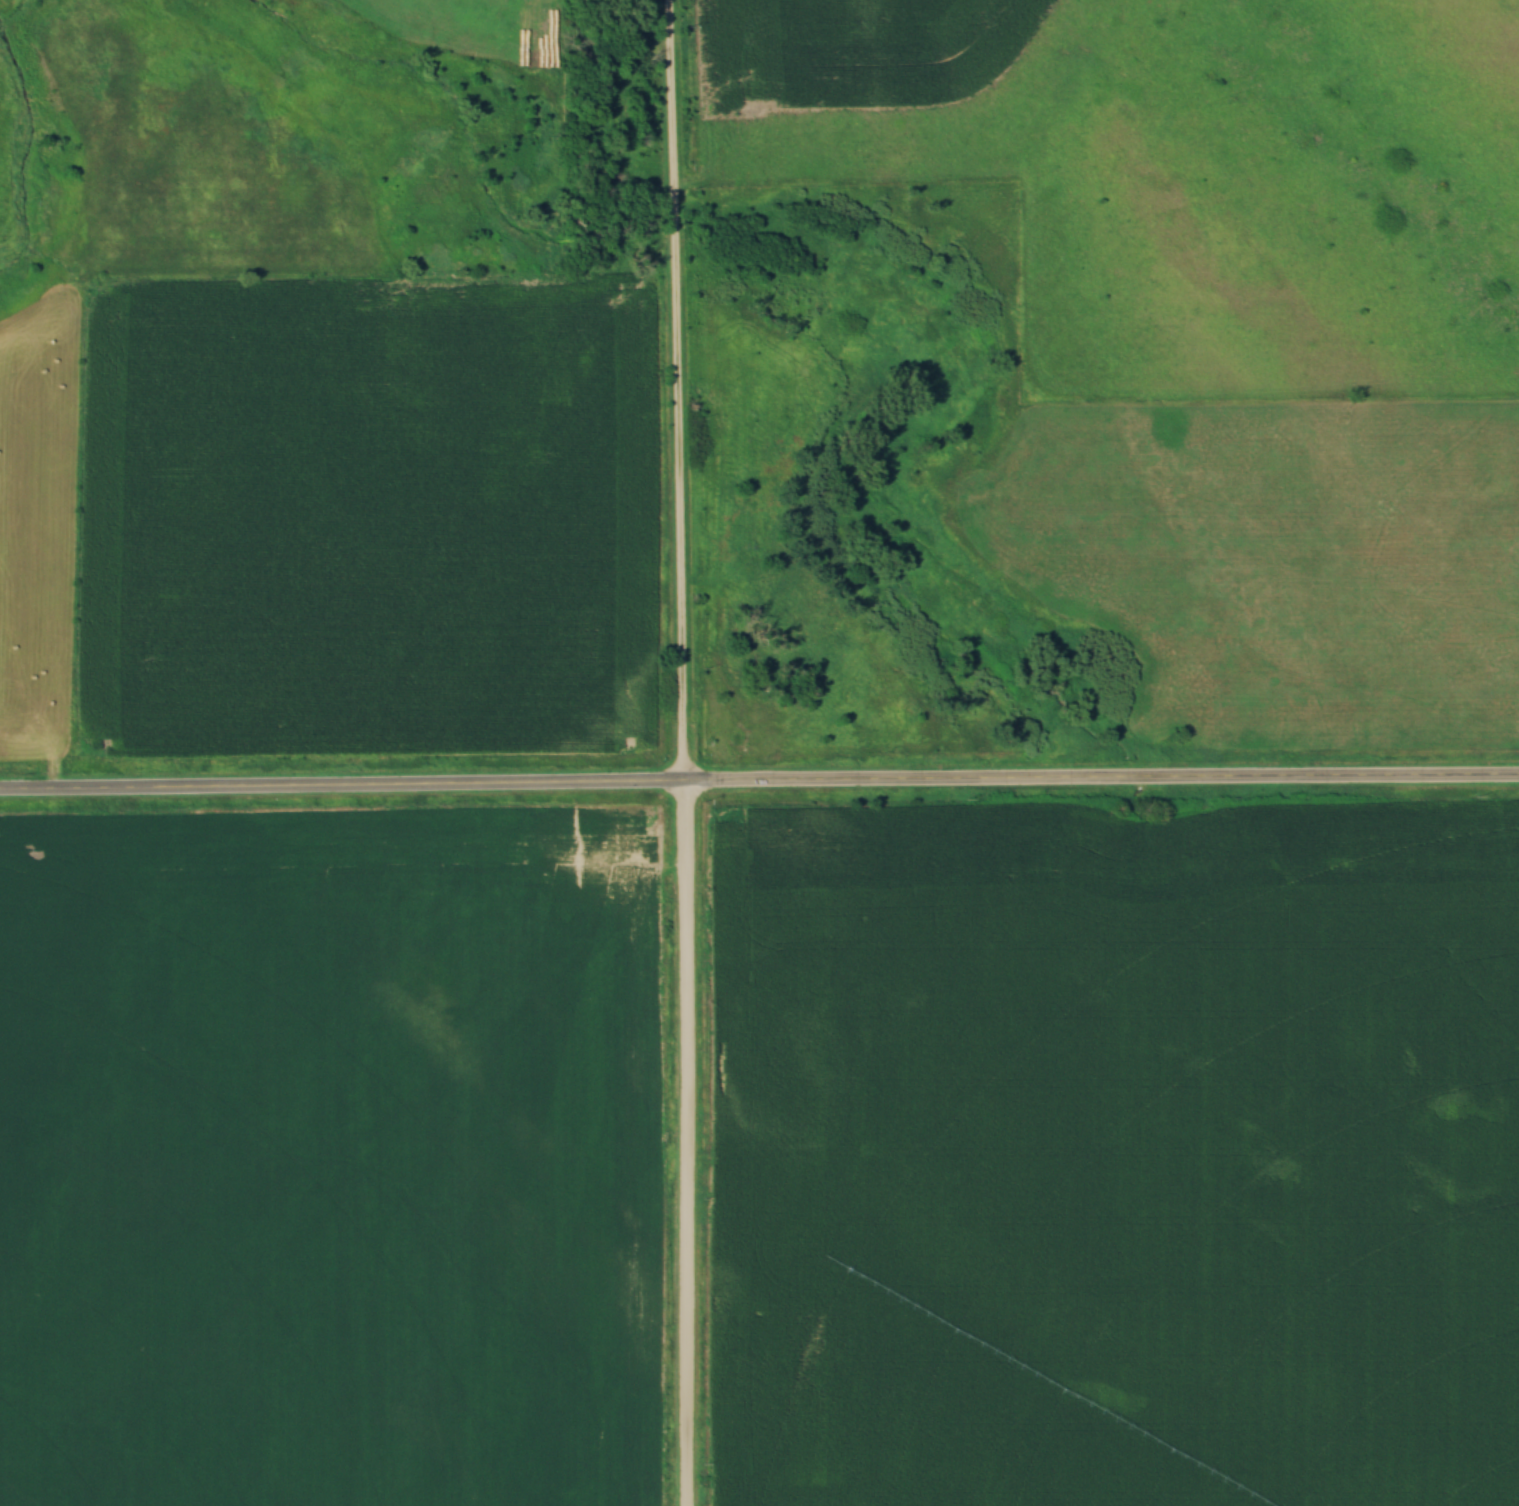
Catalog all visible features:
building: (536, 42)
river: (27, 150)
road: (684, 752)
road: (759, 786)

